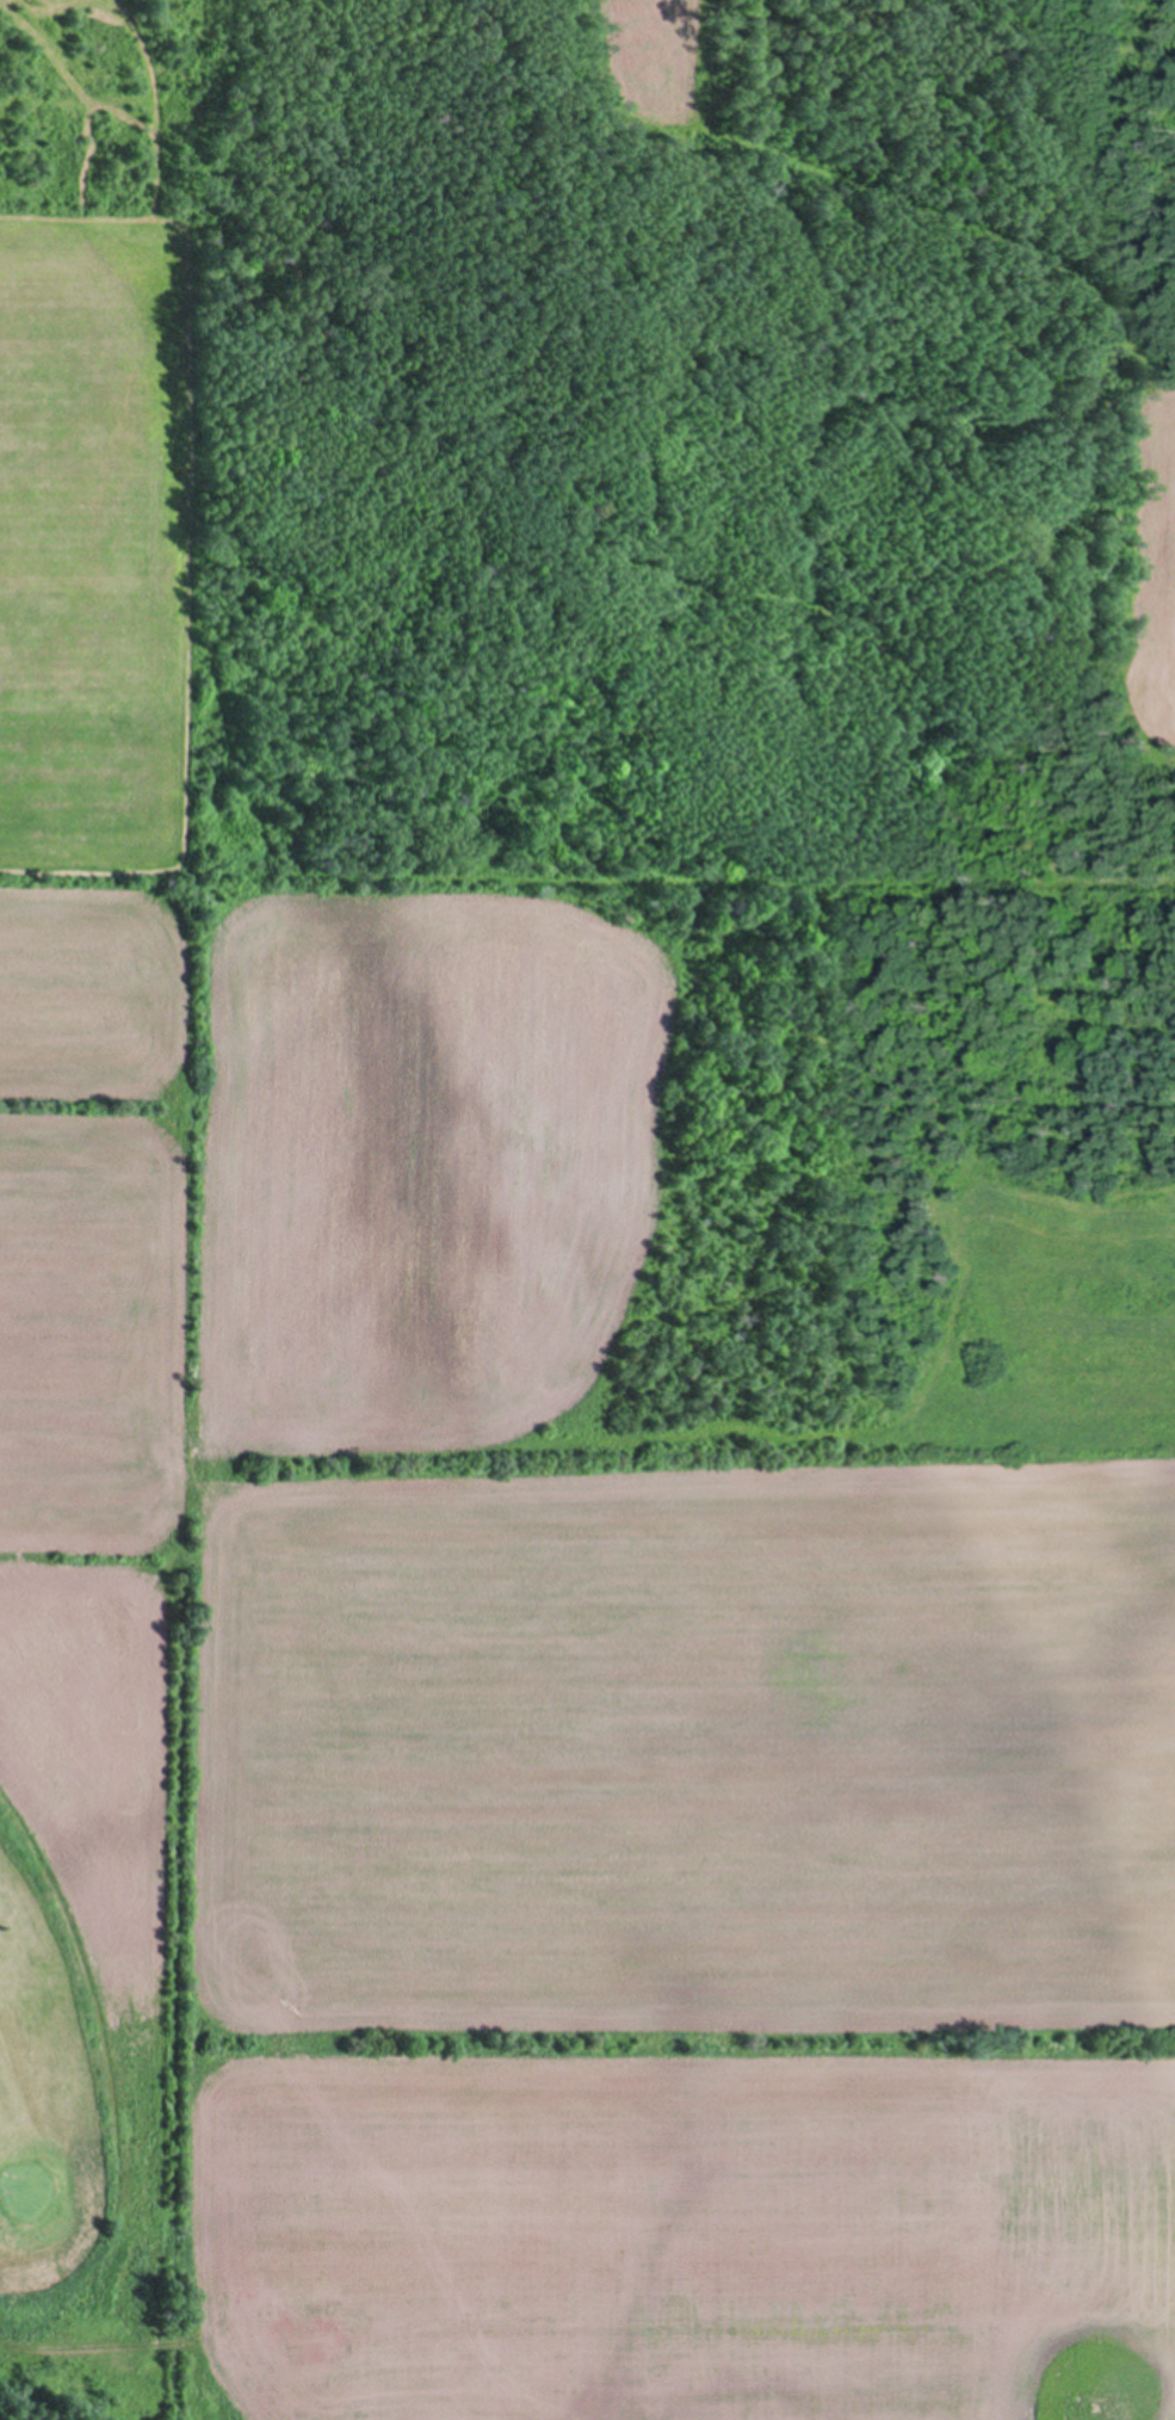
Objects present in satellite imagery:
park: (586, 1655)

